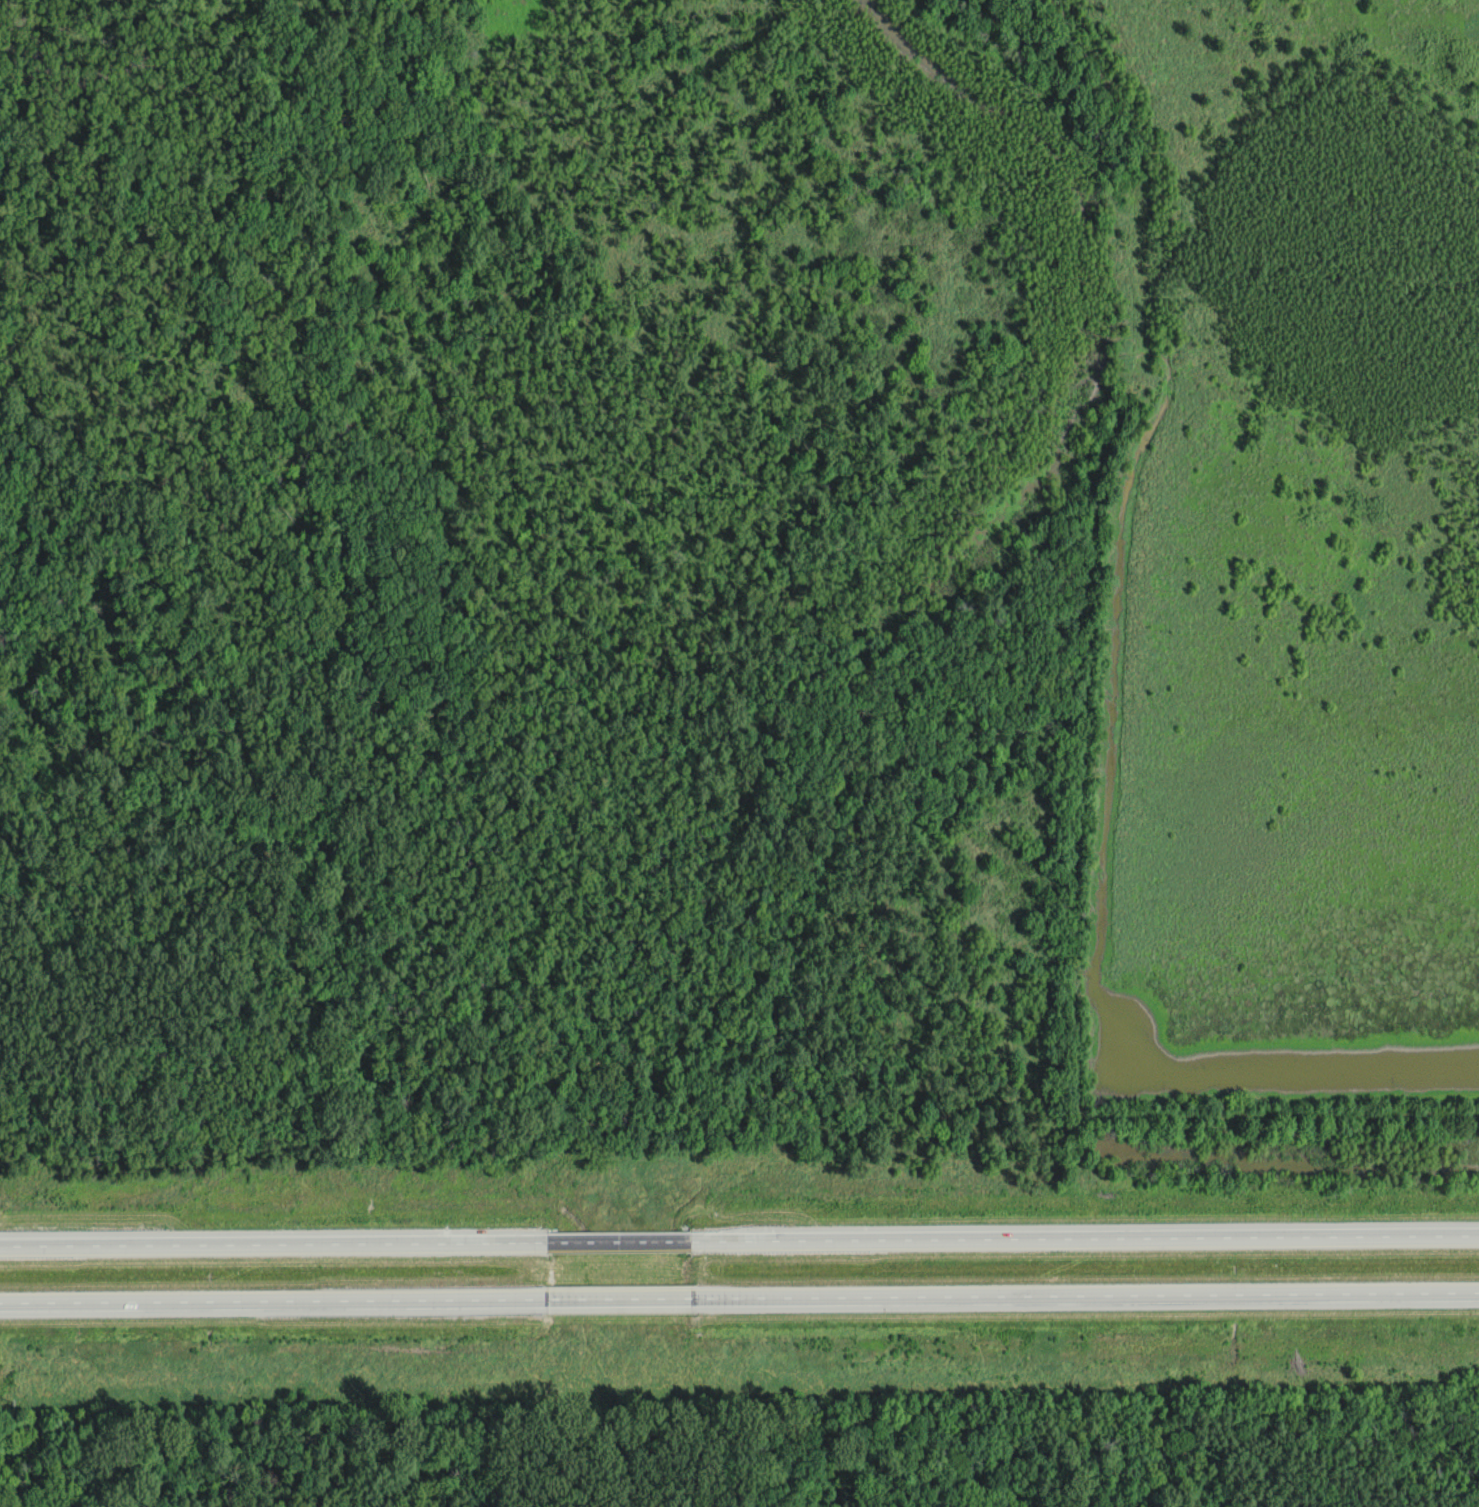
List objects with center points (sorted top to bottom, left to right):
crop: (1289, 526)
road: (1084, 1242)
road: (617, 1247)
road: (272, 1250)
road: (1086, 1297)
road: (619, 1300)
road: (272, 1303)
park: (1270, 1459)

